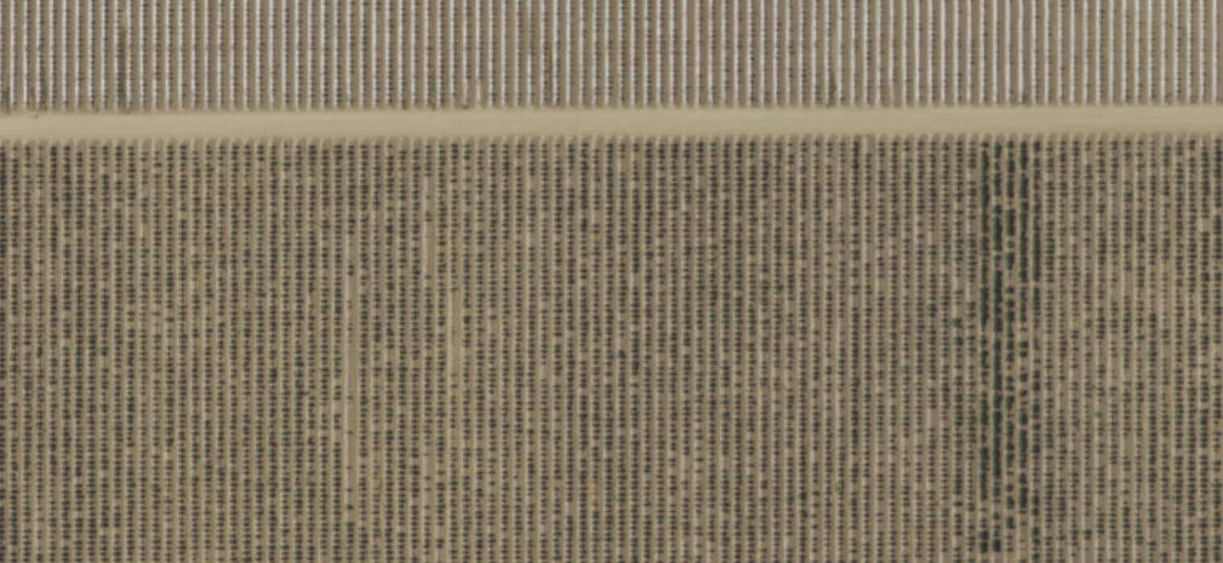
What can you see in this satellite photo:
road: (611, 116)

